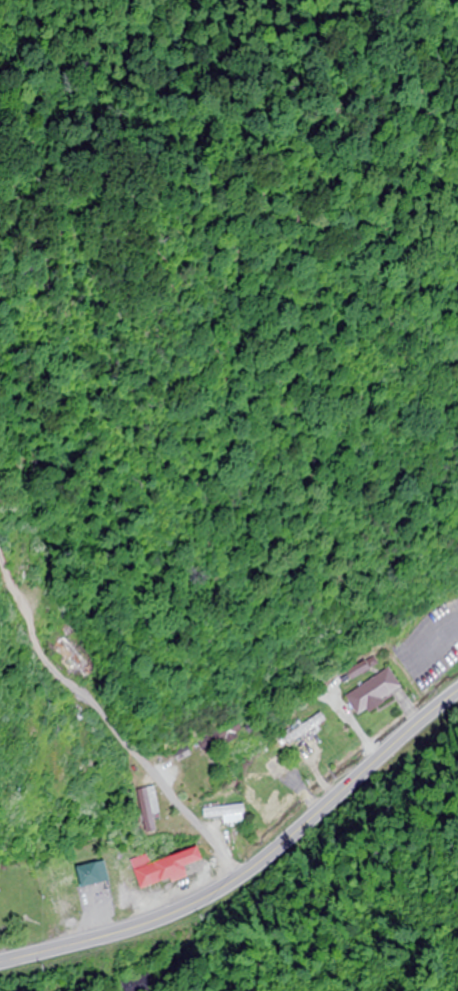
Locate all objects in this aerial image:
building: (22, 559)
road: (27, 615)
building: (371, 693)
building: (303, 730)
building: (215, 738)
building: (179, 754)
road: (154, 773)
building: (76, 776)
building: (220, 812)
building: (145, 819)
building: (160, 868)
road: (250, 868)
building: (89, 875)

